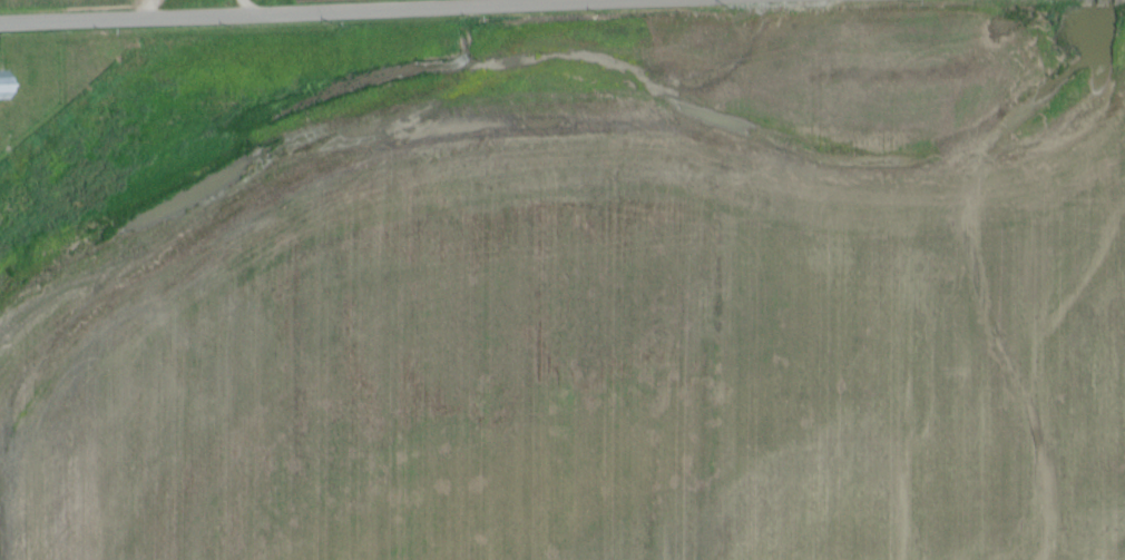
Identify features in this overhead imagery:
road: (149, 9)
road: (255, 10)
road: (304, 17)
building: (3, 85)

